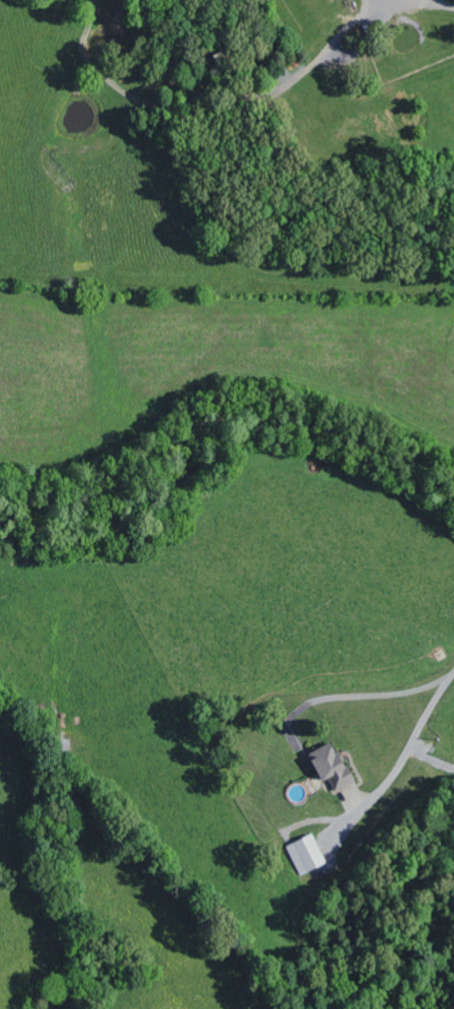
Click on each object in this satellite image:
building: (334, 768)
building: (307, 855)

